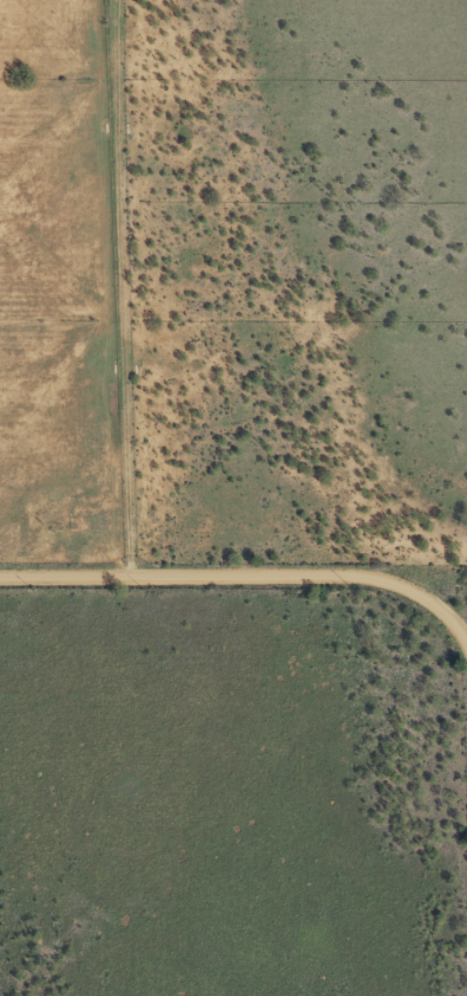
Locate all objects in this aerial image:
road: (142, 289)
road: (244, 577)

